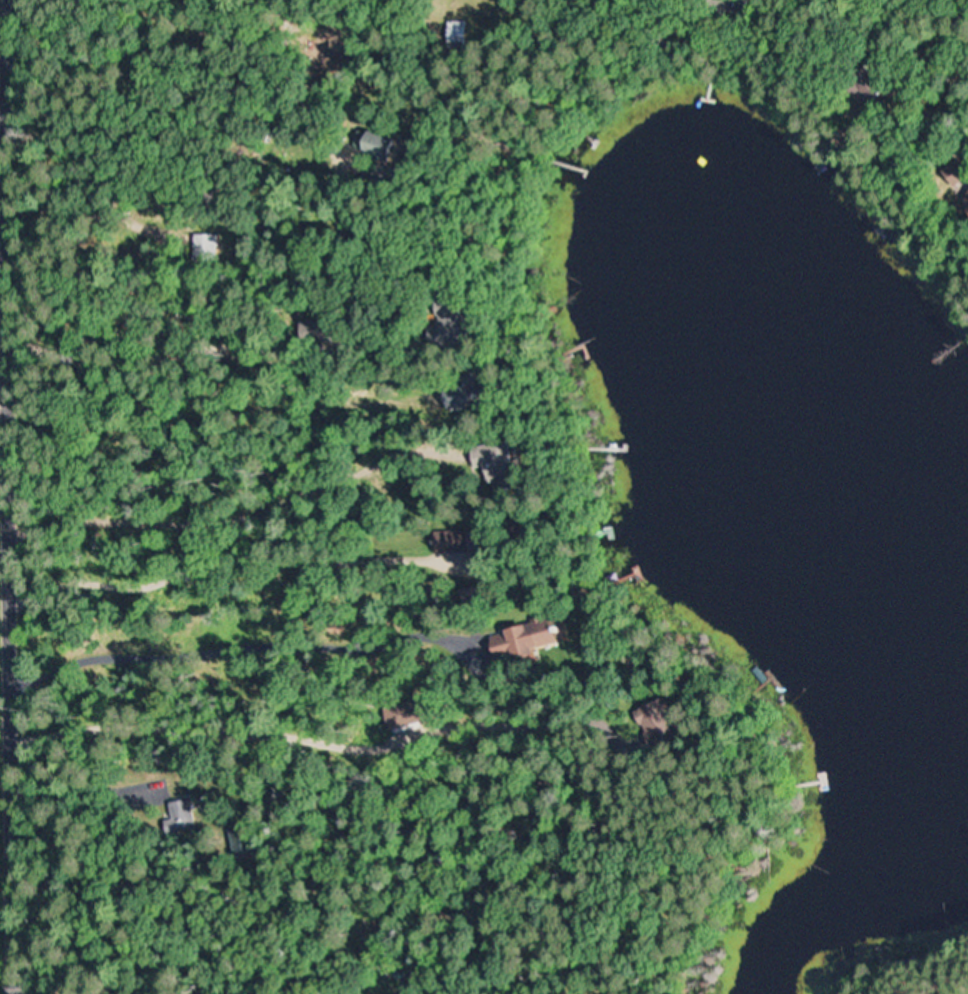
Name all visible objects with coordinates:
building: (190, 247)
road: (5, 392)
building: (472, 398)
building: (502, 462)
road: (10, 496)
building: (460, 542)
building: (529, 640)
building: (664, 721)
building: (179, 817)

